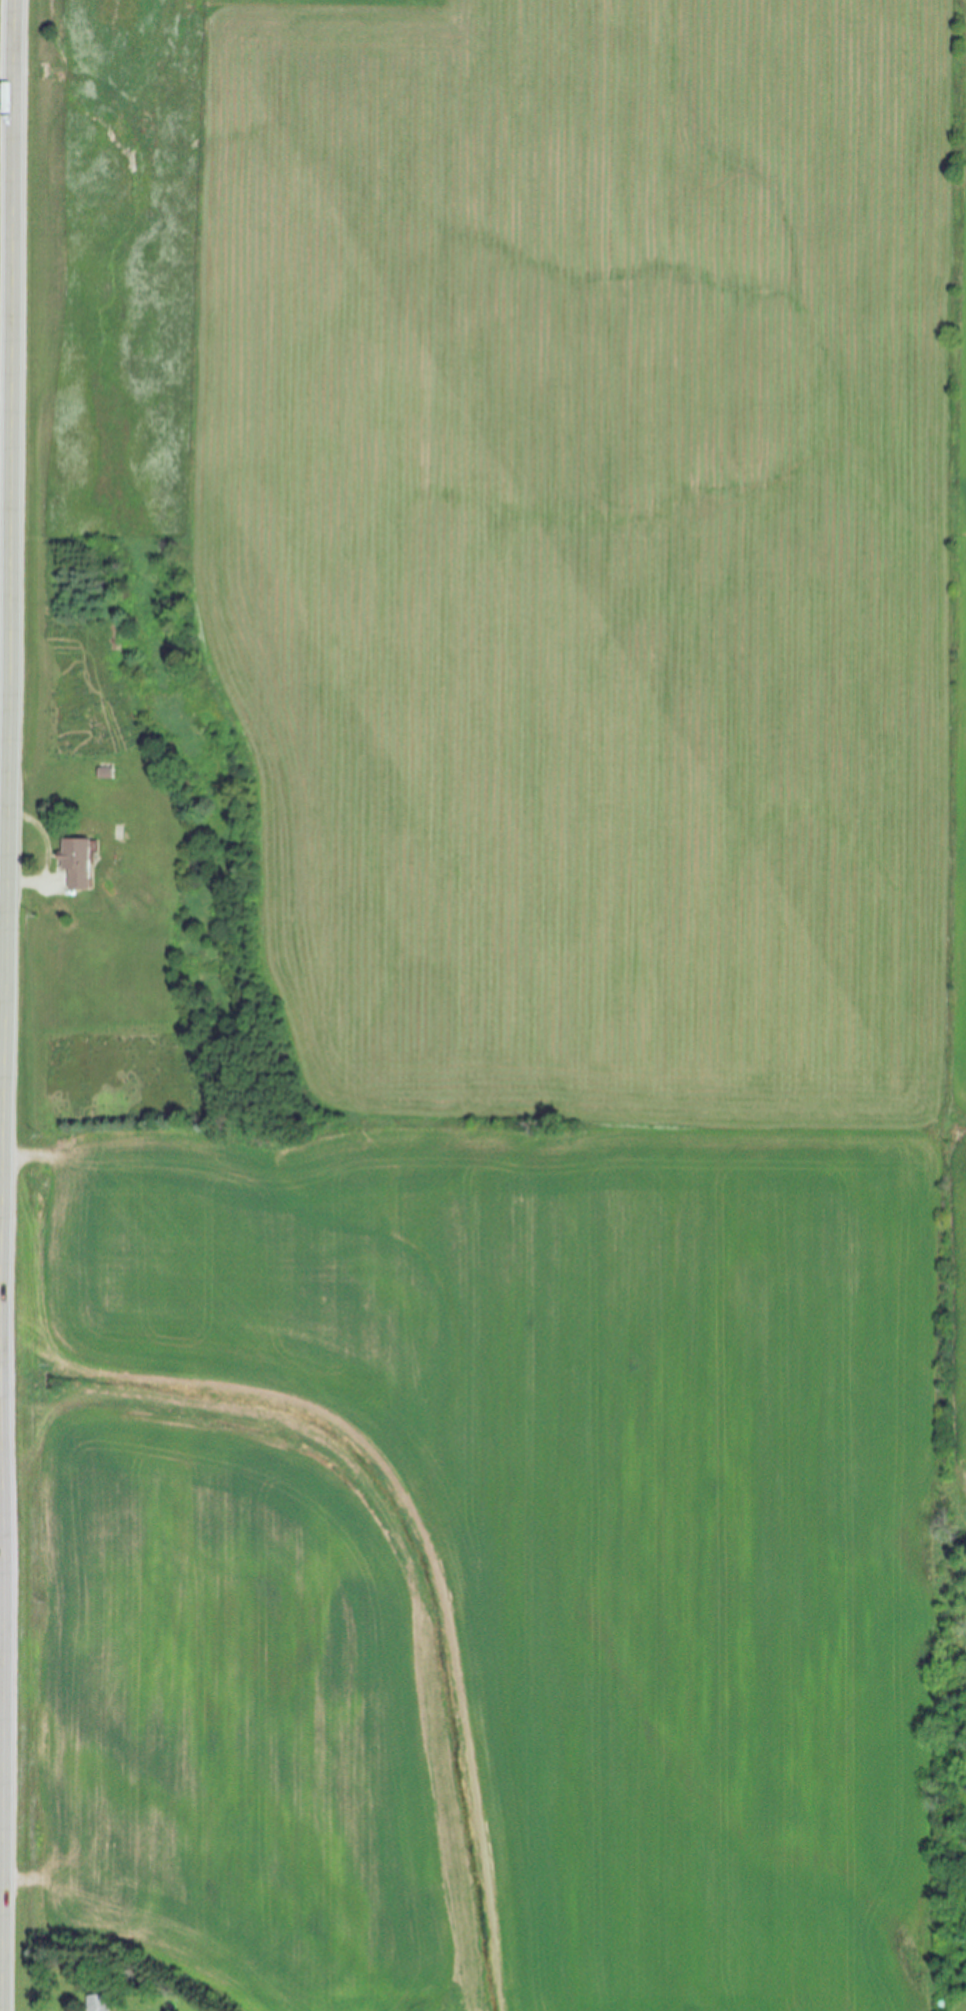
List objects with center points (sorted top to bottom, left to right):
road: (6, 406)
building: (72, 863)
road: (28, 883)
road: (3, 981)
road: (5, 1005)
road: (2, 1605)
building: (97, 2003)

